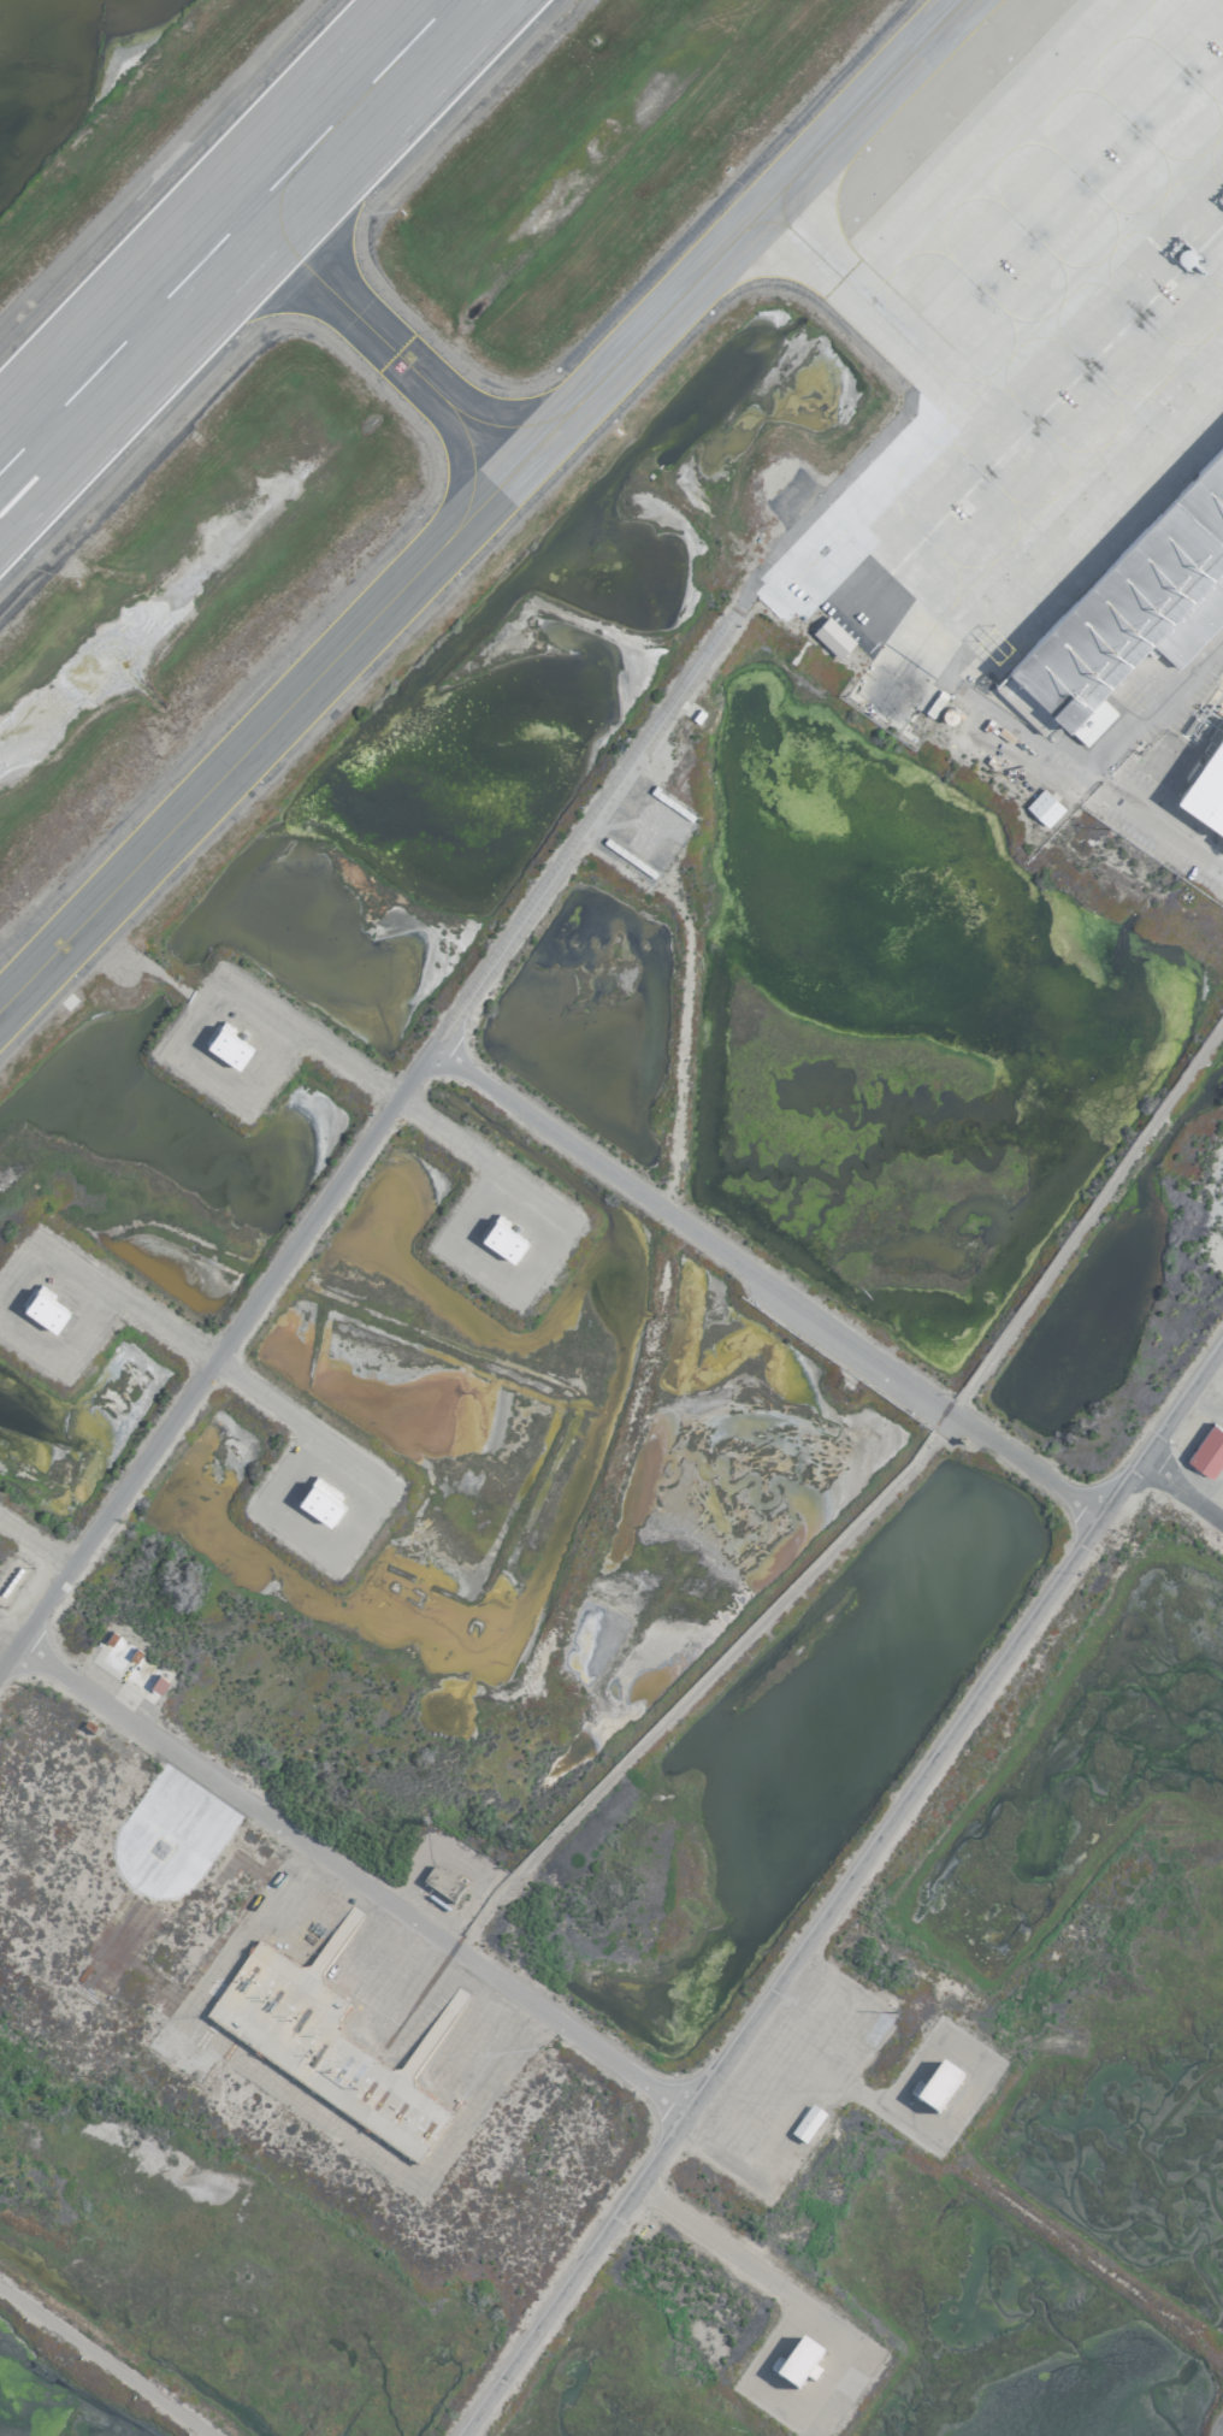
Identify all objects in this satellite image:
airport taxiway: (797, 237)
airport runway: (228, 238)
airport apron: (1048, 322)
airport taxiway: (384, 343)
airport taxiway: (484, 507)
airport hangar: (1138, 606)
building: (1138, 606)
building: (832, 636)
road: (995, 719)
building: (1205, 785)
building: (1042, 806)
road: (309, 1031)
building: (225, 1044)
road: (383, 1111)
road: (495, 1164)
road: (1083, 1213)
airport: (611, 1217)
building: (501, 1238)
road: (664, 1240)
road: (764, 1280)
road: (125, 1294)
building: (42, 1309)
road: (308, 1423)
building: (1207, 1450)
road: (1178, 1496)
building: (320, 1500)
road: (699, 1677)
building: (156, 1682)
road: (347, 1872)
building: (441, 1882)
road: (837, 1886)
building: (325, 1904)
building: (934, 2086)
building: (805, 2123)
road: (722, 2245)
road: (106, 2360)
building: (796, 2363)
road: (1218, 2425)

